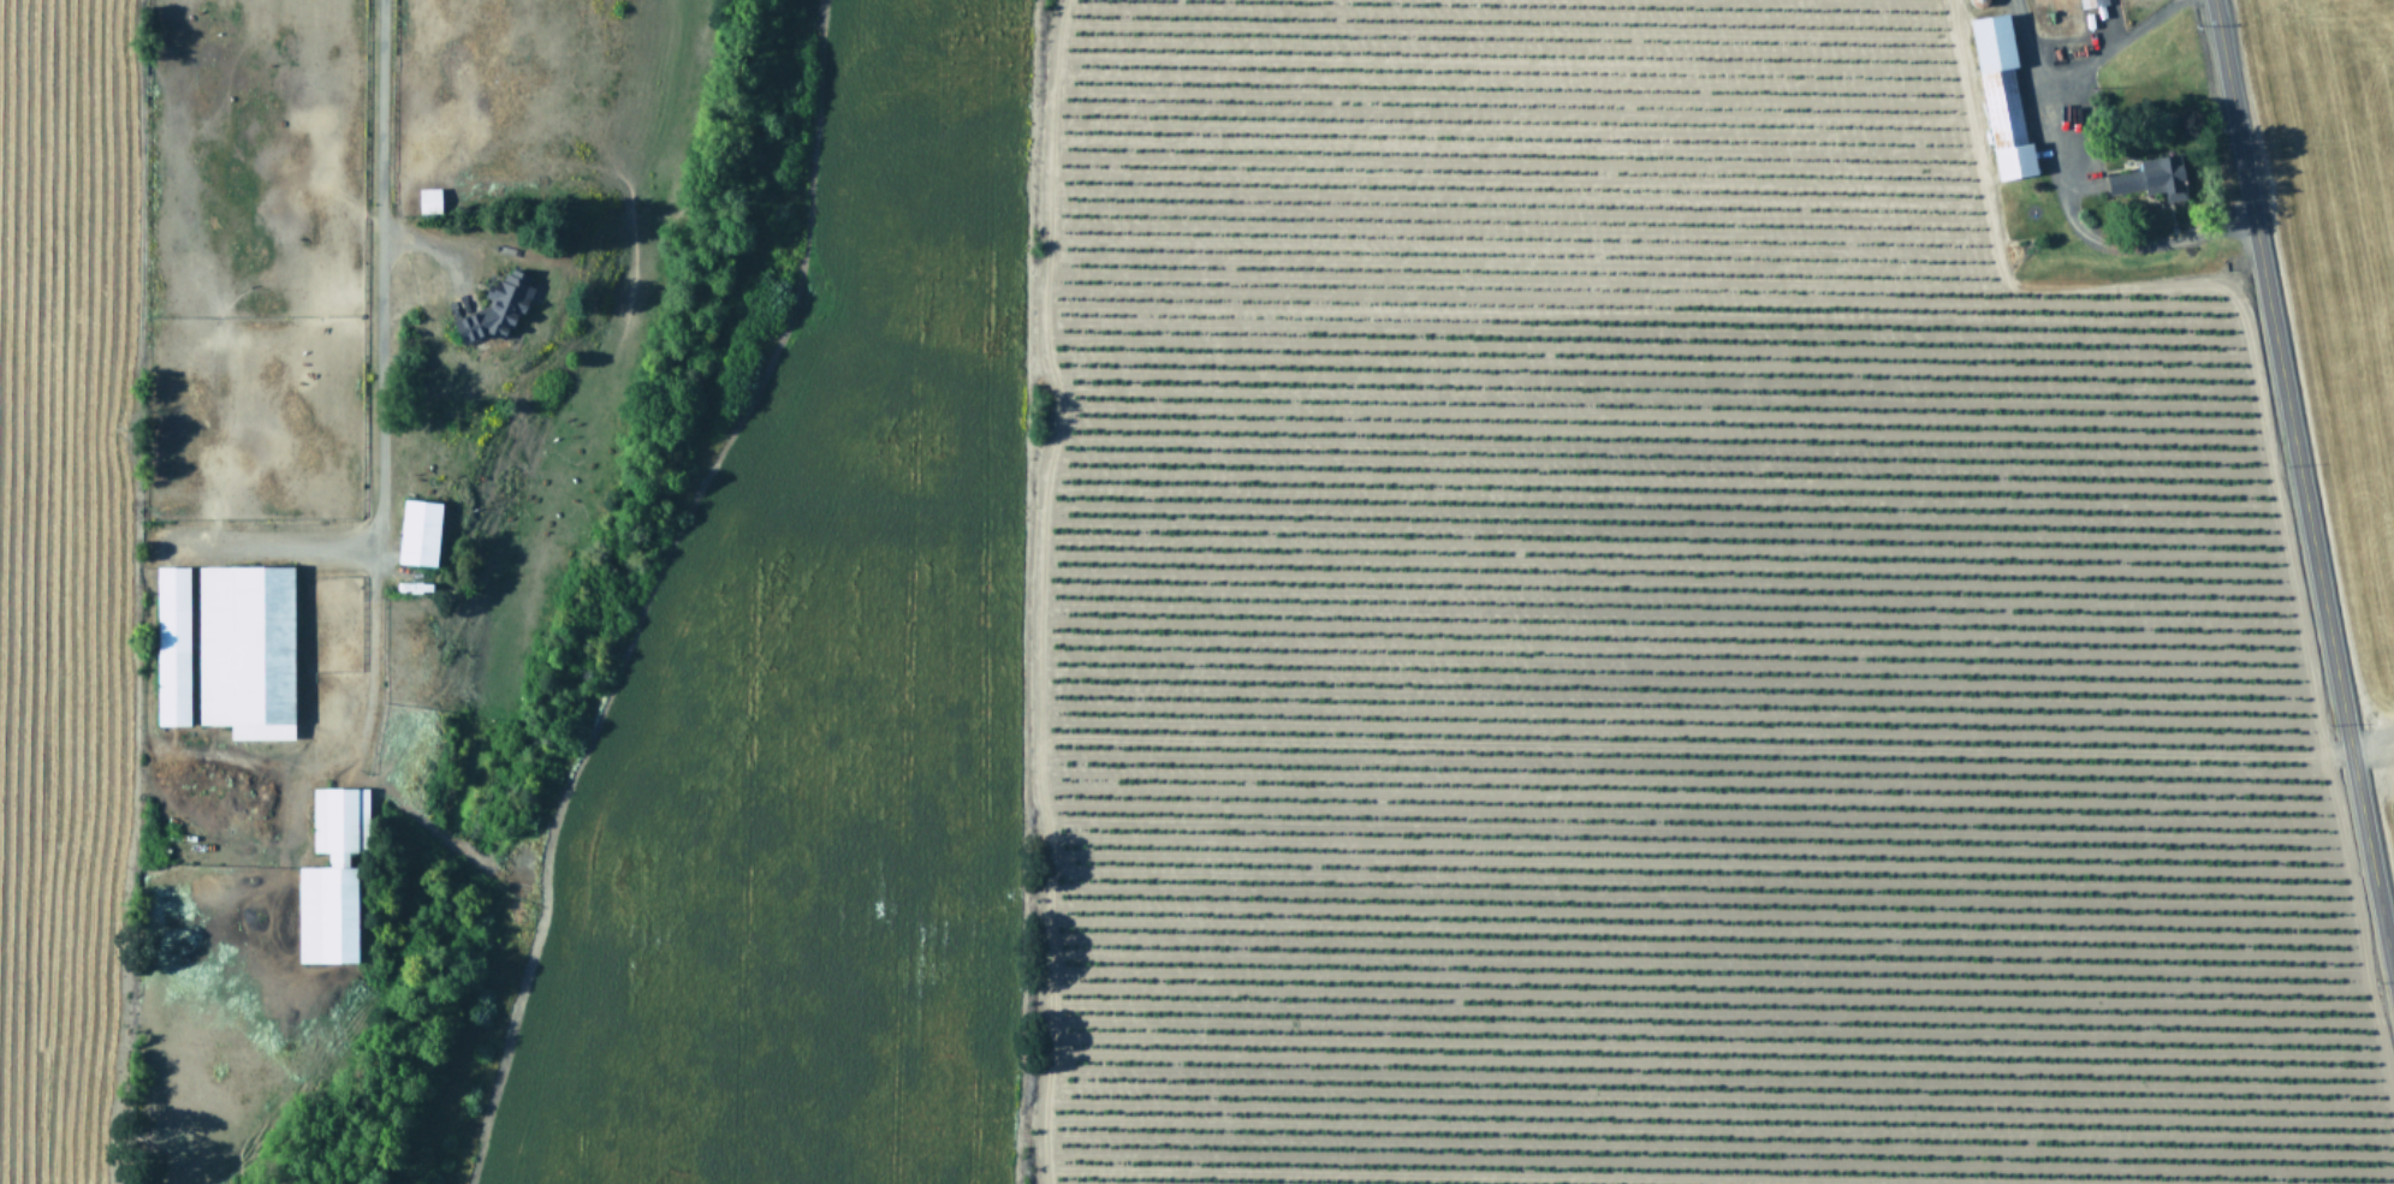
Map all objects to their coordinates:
building: (2091, 1)
road: (2109, 42)
building: (2002, 95)
road: (382, 96)
building: (2152, 175)
road: (2073, 196)
building: (428, 197)
road: (412, 227)
building: (495, 307)
road: (2301, 493)
crop: (266, 495)
road: (382, 504)
building: (418, 530)
crop: (1525, 615)
building: (172, 643)
building: (245, 648)
building: (332, 875)

